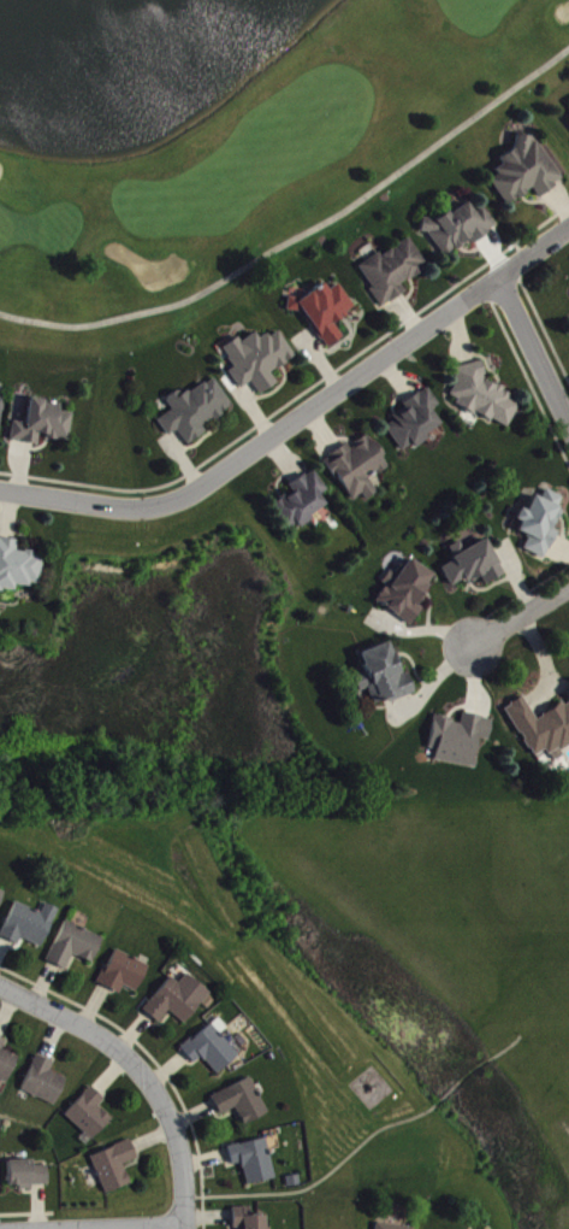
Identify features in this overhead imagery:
park: (227, 146)
building: (526, 172)
building: (461, 228)
road: (303, 239)
building: (393, 271)
building: (326, 311)
road: (537, 343)
building: (259, 360)
building: (484, 395)
building: (196, 411)
building: (1, 412)
road: (301, 418)
building: (415, 422)
building: (45, 424)
building: (358, 469)
building: (304, 501)
building: (540, 523)
building: (474, 564)
building: (19, 566)
building: (407, 592)
road: (523, 619)
building: (384, 676)
building: (544, 729)
building: (460, 740)
building: (1, 896)
building: (30, 924)
building: (76, 946)
building: (124, 974)
building: (173, 1002)
building: (213, 1047)
building: (7, 1062)
road: (143, 1070)
building: (46, 1082)
building: (242, 1101)
building: (91, 1115)
building: (255, 1162)
building: (115, 1166)
building: (29, 1175)
building: (249, 1219)
building: (389, 1227)

